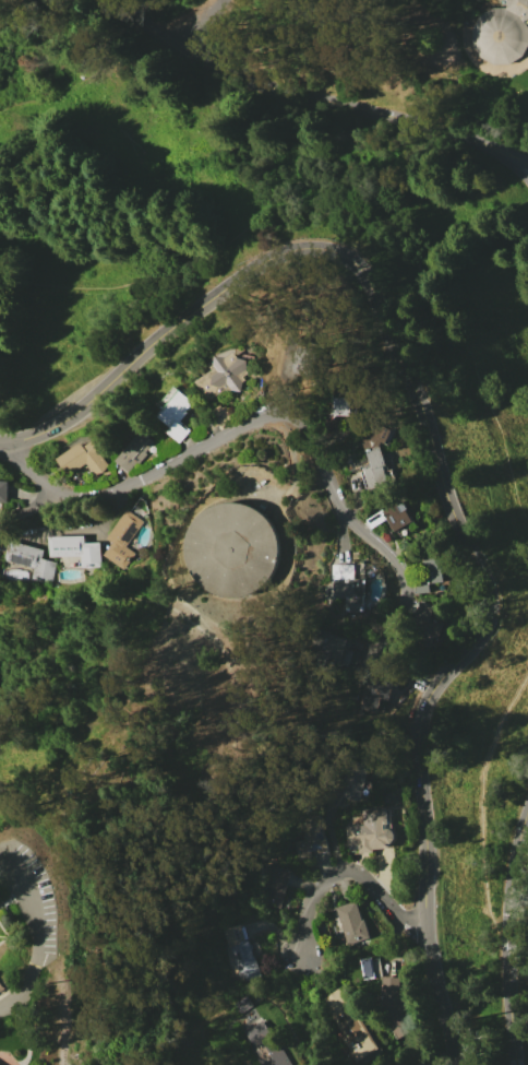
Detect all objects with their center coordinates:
road: (209, 16)
building: (502, 32)
road: (483, 64)
road: (88, 80)
road: (315, 102)
road: (445, 206)
road: (351, 213)
building: (298, 362)
building: (224, 375)
building: (346, 405)
building: (173, 413)
building: (220, 415)
road: (274, 415)
building: (133, 451)
building: (373, 455)
building: (83, 458)
road: (437, 460)
road: (295, 466)
road: (32, 470)
building: (3, 490)
building: (391, 516)
building: (121, 539)
road: (182, 543)
building: (75, 549)
building: (233, 551)
storage tank: (233, 551)
building: (29, 560)
road: (179, 573)
building: (430, 575)
building: (348, 585)
road: (173, 602)
road: (76, 607)
building: (427, 623)
building: (331, 644)
building: (373, 693)
road: (235, 726)
building: (355, 782)
road: (484, 812)
building: (369, 831)
building: (310, 841)
road: (346, 868)
building: (273, 886)
road: (13, 897)
parking lot: (37, 914)
building: (350, 922)
road: (5, 934)
road: (40, 934)
road: (508, 946)
building: (241, 952)
road: (518, 965)
building: (369, 967)
building: (391, 984)
building: (1, 989)
building: (242, 1003)
building: (396, 1016)
road: (69, 1017)
building: (350, 1027)
building: (264, 1045)

